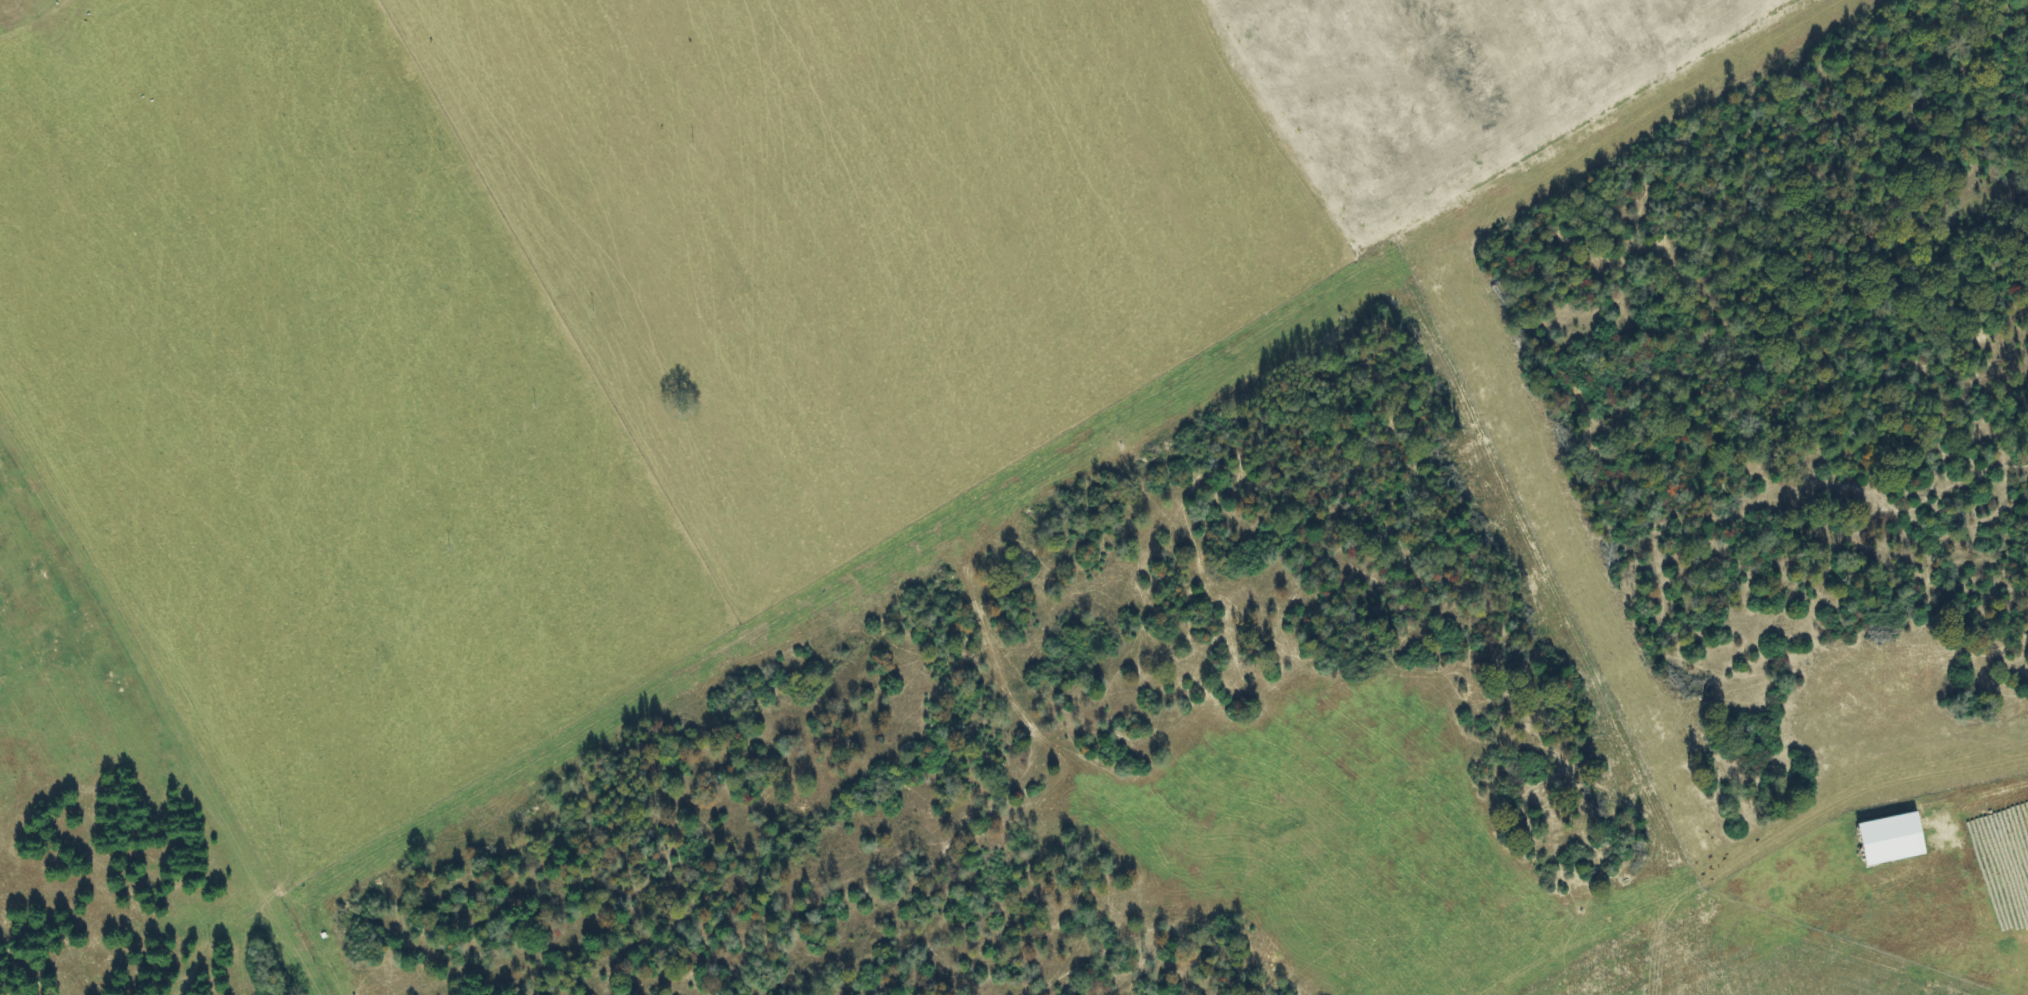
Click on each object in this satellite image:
road: (1021, 441)
building: (1893, 838)

